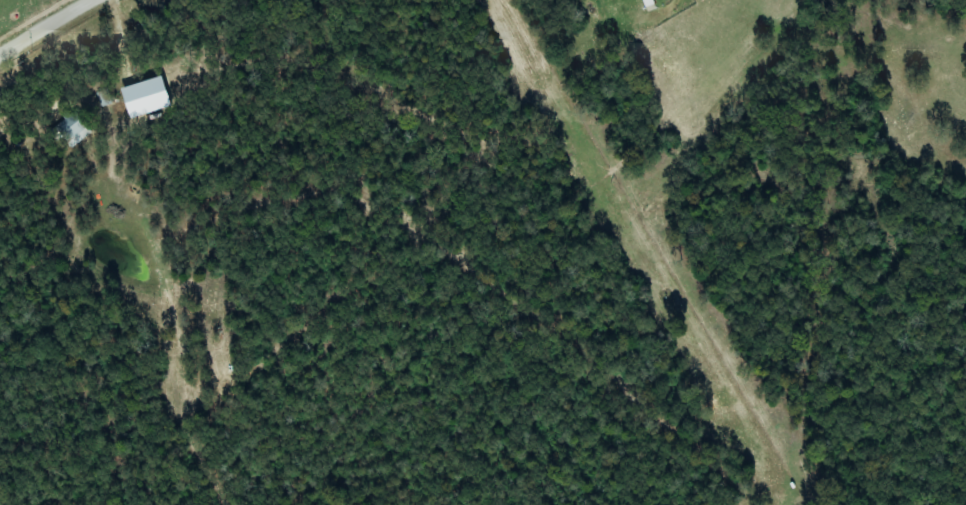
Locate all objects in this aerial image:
road: (49, 29)
building: (71, 130)

